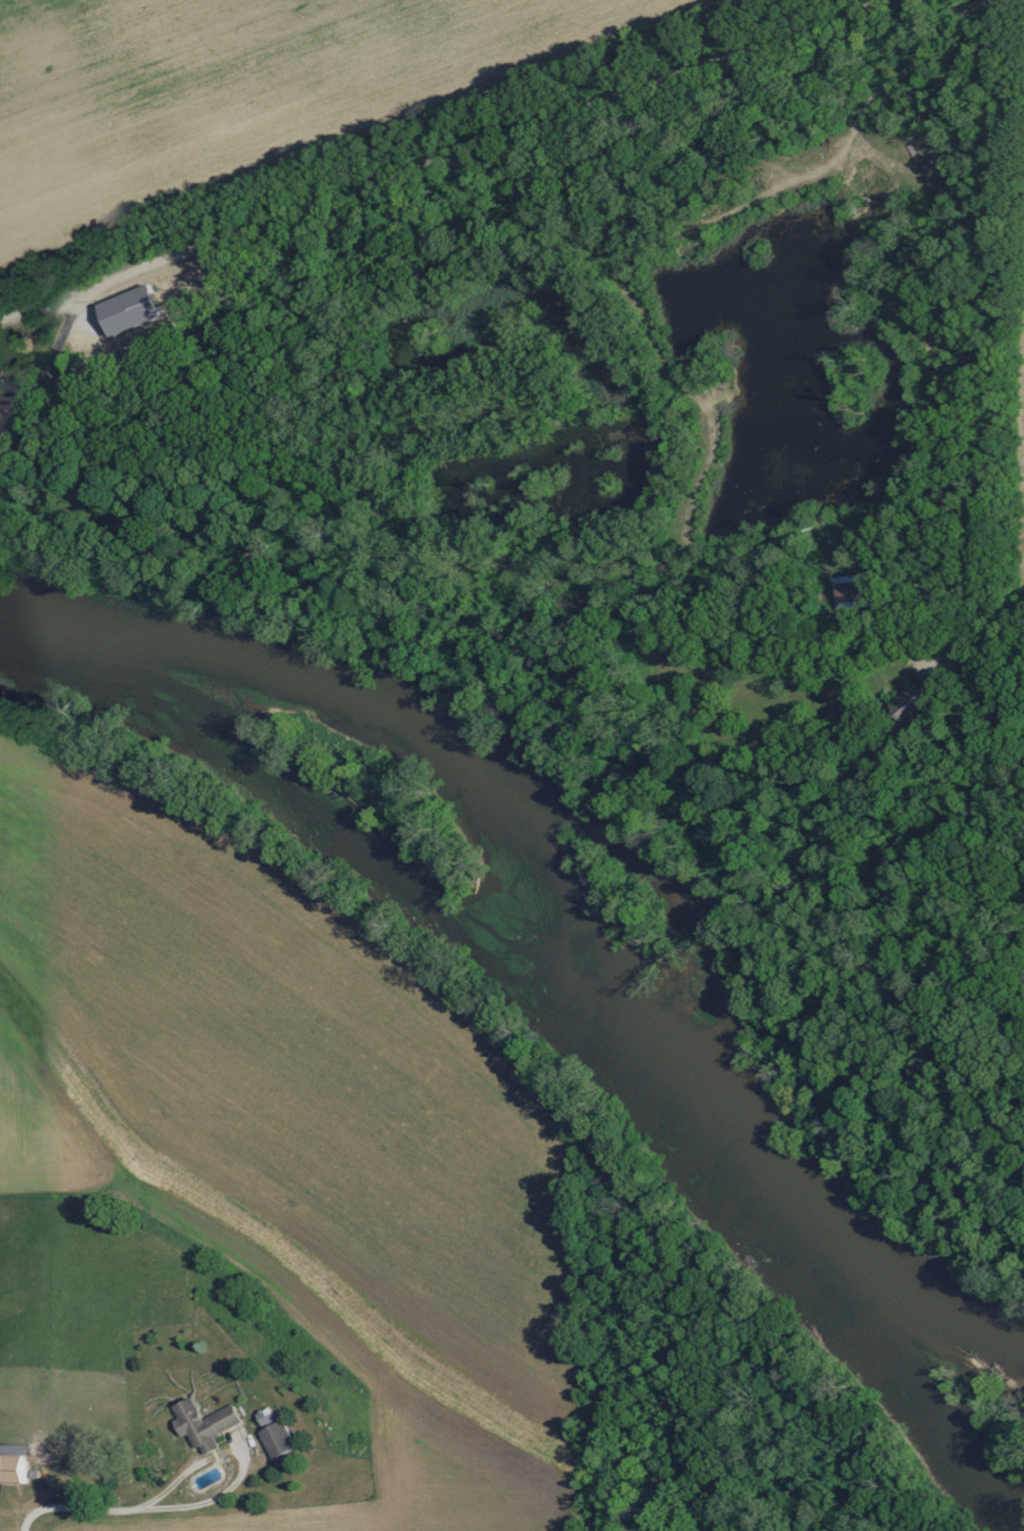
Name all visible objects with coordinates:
road: (423, 164)
road: (994, 338)
building: (4, 413)
building: (853, 589)
building: (914, 704)
river: (545, 985)
building: (268, 1417)
building: (206, 1424)
building: (280, 1440)
building: (13, 1464)
road: (96, 1507)

